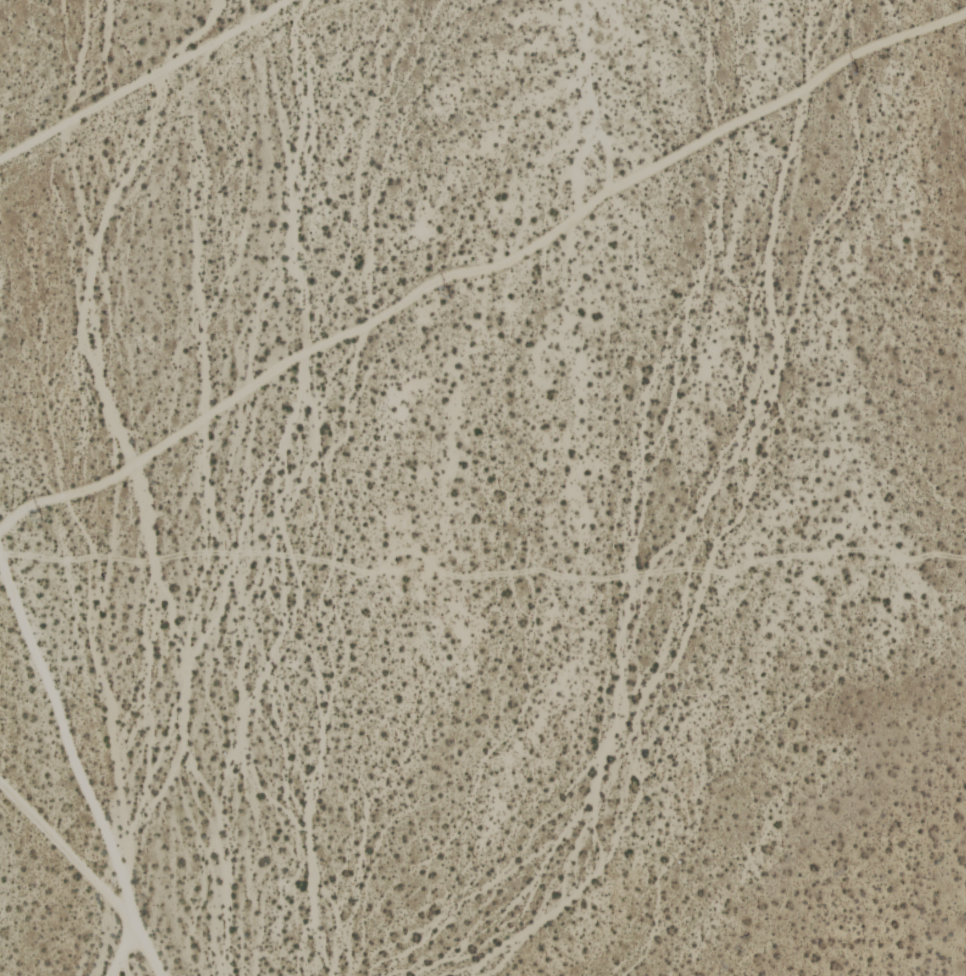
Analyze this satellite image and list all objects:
power tower: (852, 67)
road: (145, 80)
power tower: (447, 292)
power tower: (39, 514)

